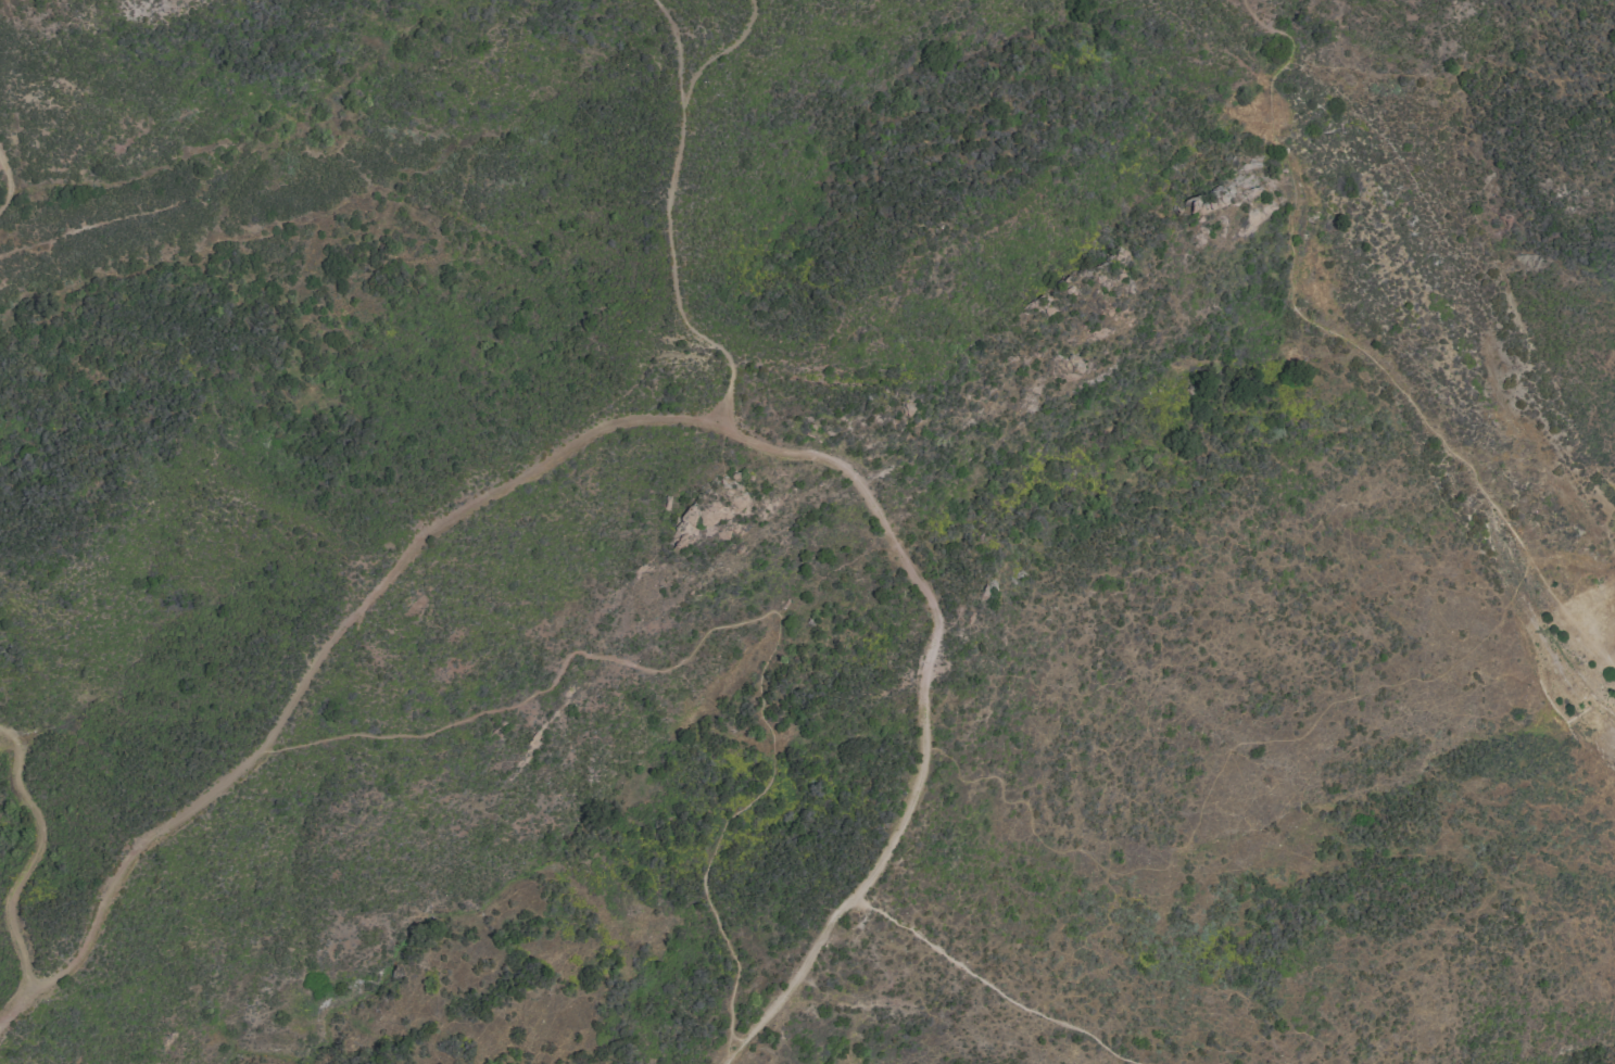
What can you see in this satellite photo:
road: (721, 53)
road: (9, 183)
road: (669, 221)
road: (1354, 347)
road: (530, 471)
road: (732, 629)
road: (8, 742)
road: (989, 987)
road: (18, 1008)

